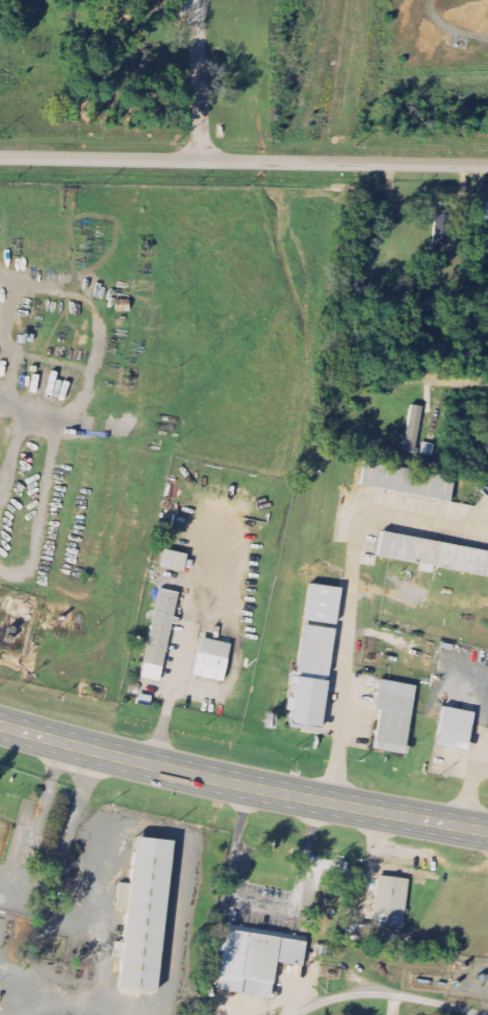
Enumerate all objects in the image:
road: (193, 5)
road: (198, 79)
power tower: (3, 142)
power tower: (262, 150)
road: (244, 161)
building: (443, 229)
road: (47, 288)
road: (13, 352)
road: (92, 370)
road: (459, 382)
road: (15, 402)
road: (40, 414)
building: (414, 429)
road: (13, 454)
building: (409, 479)
road: (43, 508)
building: (433, 553)
building: (174, 560)
road: (349, 596)
building: (325, 604)
building: (160, 635)
building: (212, 659)
road: (178, 660)
road: (236, 665)
building: (315, 677)
building: (393, 713)
building: (453, 729)
road: (242, 785)
building: (4, 835)
road: (238, 838)
road: (30, 848)
road: (187, 865)
road: (56, 883)
building: (265, 883)
building: (126, 897)
building: (150, 901)
building: (391, 902)
building: (122, 950)
building: (262, 965)
road: (16, 973)
road: (94, 997)

